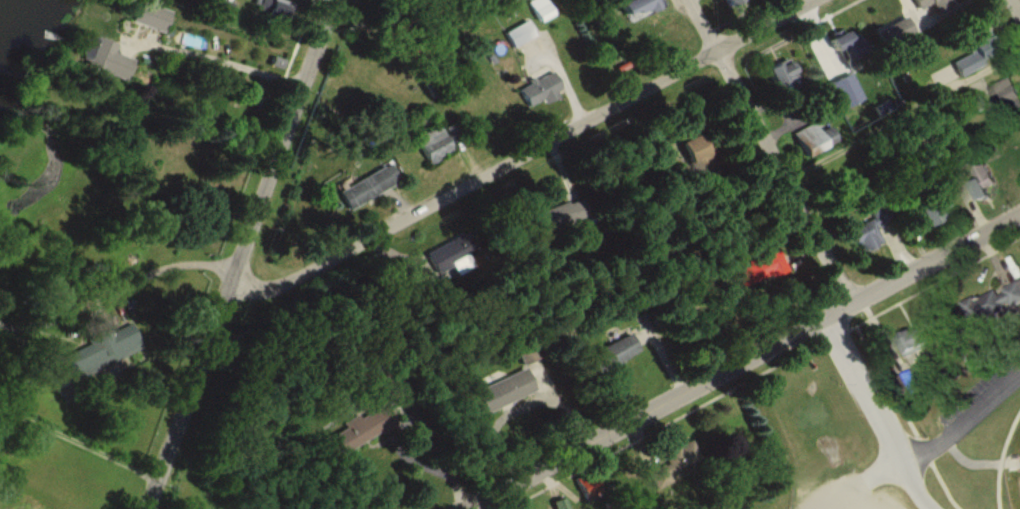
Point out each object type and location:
building: (735, 1)
building: (932, 4)
building: (640, 8)
building: (280, 9)
road: (1013, 11)
building: (152, 17)
road: (926, 20)
building: (521, 34)
building: (849, 47)
building: (975, 53)
building: (106, 58)
building: (620, 68)
building: (784, 73)
building: (541, 91)
building: (1005, 92)
road: (903, 112)
building: (816, 139)
building: (437, 143)
road: (522, 153)
road: (773, 153)
building: (703, 156)
building: (982, 183)
building: (370, 187)
building: (935, 211)
building: (565, 214)
building: (872, 230)
road: (241, 253)
building: (453, 256)
road: (172, 257)
building: (761, 269)
building: (1000, 300)
building: (916, 341)
building: (103, 353)
building: (529, 355)
road: (744, 365)
building: (506, 391)
road: (516, 405)
road: (876, 417)
road: (963, 420)
road: (402, 421)
building: (361, 430)
road: (81, 435)
building: (678, 466)
building: (592, 486)
road: (457, 494)
building: (561, 505)

